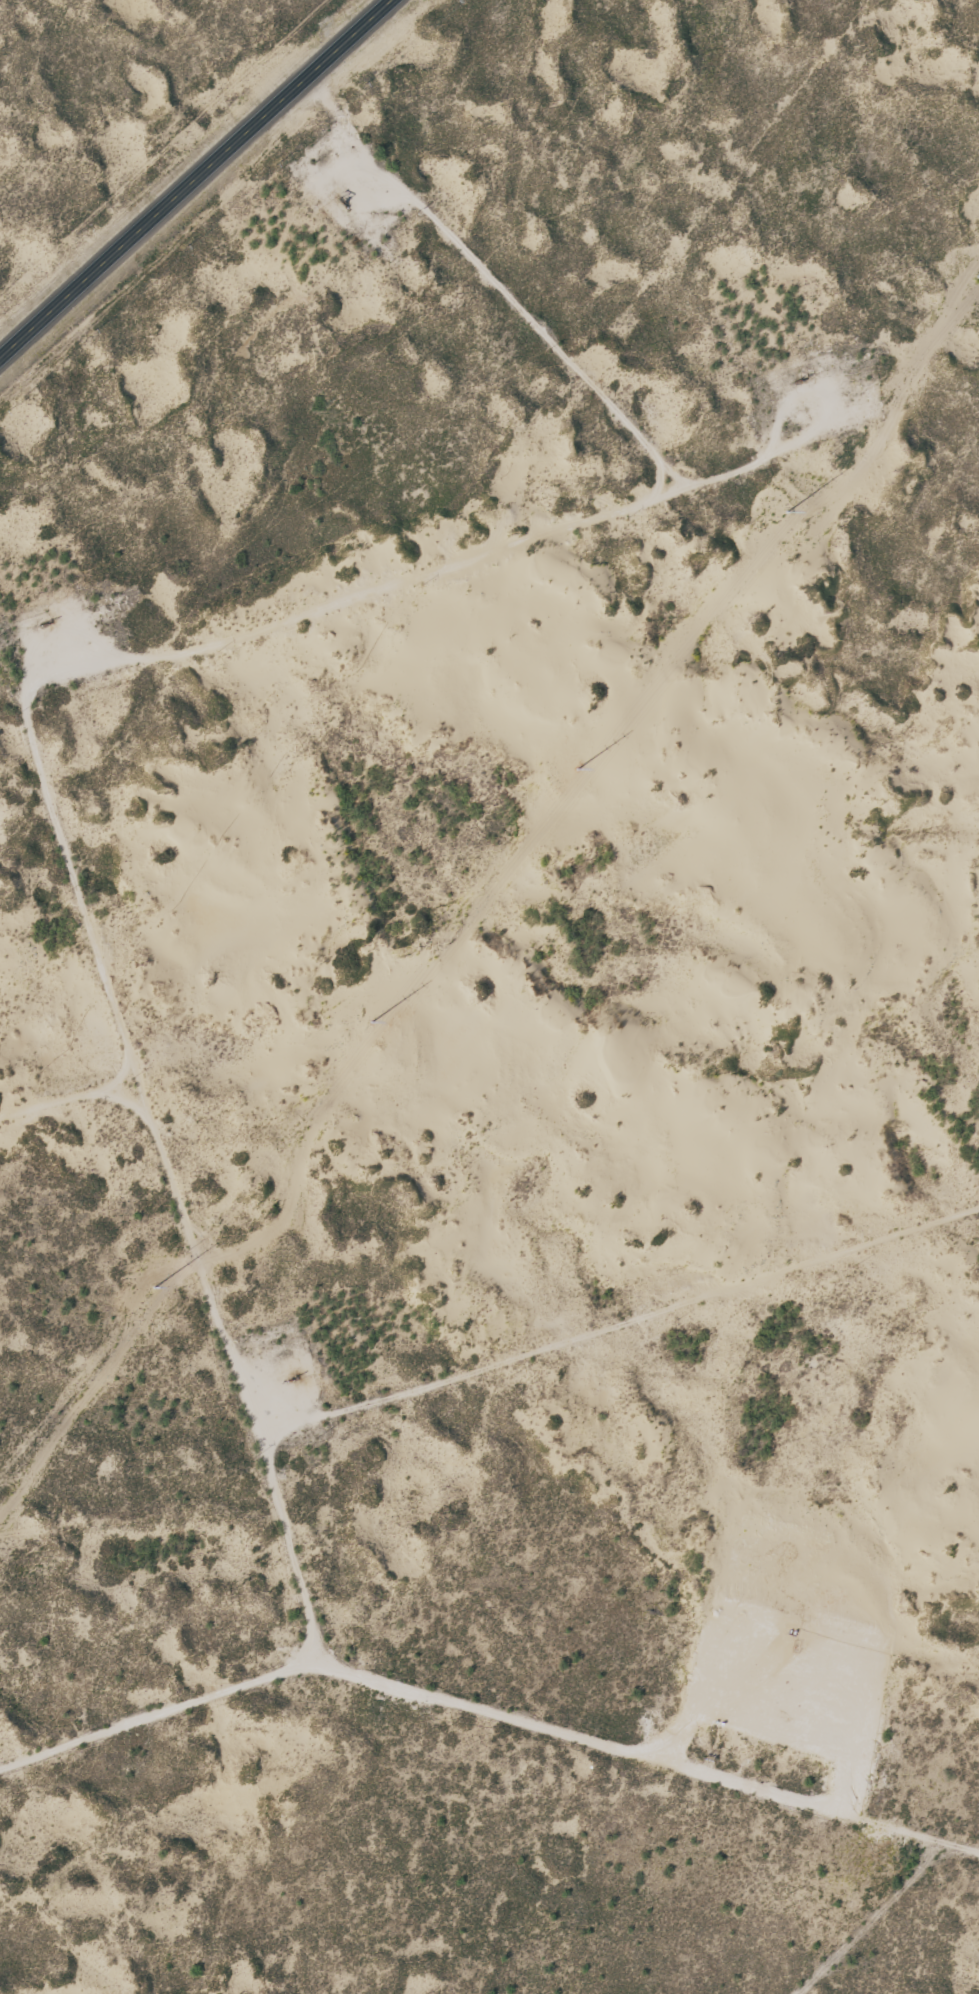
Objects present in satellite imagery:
road: (197, 180)
power tower: (801, 524)
power tower: (583, 789)
power tower: (376, 1047)
power tower: (166, 1303)

